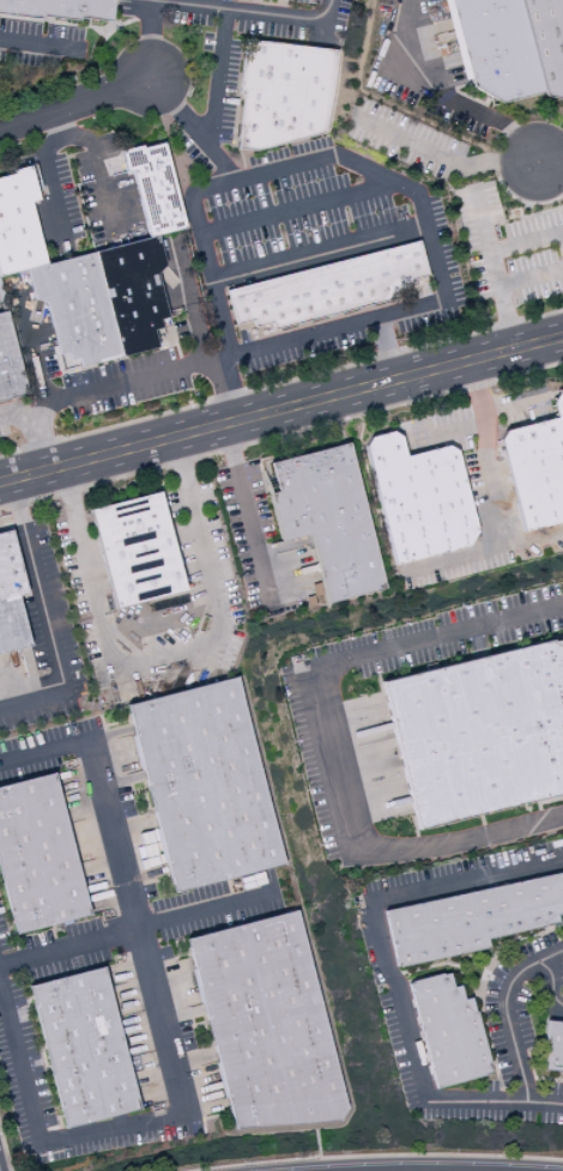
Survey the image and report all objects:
building: (303, 1)
road: (192, 5)
building: (59, 10)
road: (225, 18)
road: (144, 38)
building: (546, 42)
road: (34, 47)
building: (494, 48)
building: (283, 93)
road: (436, 95)
road: (73, 103)
road: (404, 110)
road: (188, 131)
road: (550, 158)
road: (442, 159)
road: (307, 163)
road: (97, 170)
road: (47, 171)
building: (155, 189)
road: (291, 206)
building: (18, 224)
road: (526, 244)
road: (314, 251)
road: (494, 272)
road: (531, 279)
building: (328, 289)
building: (133, 292)
building: (75, 309)
building: (8, 364)
road: (163, 371)
road: (509, 404)
road: (280, 408)
road: (18, 415)
road: (447, 429)
road: (40, 432)
building: (535, 468)
road: (494, 480)
building: (419, 499)
road: (244, 511)
building: (327, 520)
building: (137, 551)
road: (455, 560)
building: (11, 599)
road: (47, 617)
road: (167, 667)
building: (479, 734)
road: (328, 739)
building: (205, 785)
building: (37, 857)
road: (117, 862)
road: (207, 911)
building: (471, 920)
road: (388, 976)
road: (550, 978)
road: (559, 1008)
road: (506, 1017)
building: (267, 1025)
building: (447, 1032)
building: (552, 1048)
building: (84, 1049)
road: (127, 1126)

